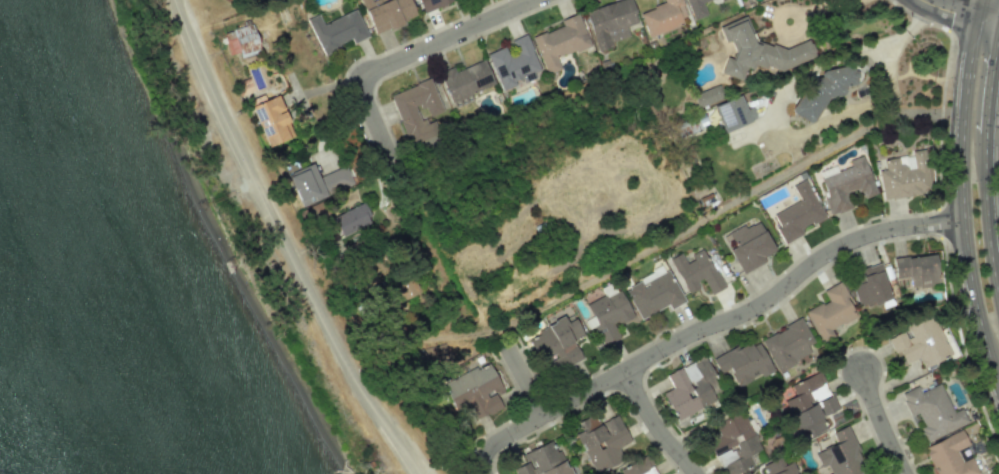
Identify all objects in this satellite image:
building: (721, 0)
building: (431, 4)
road: (812, 5)
building: (696, 8)
road: (976, 11)
building: (387, 13)
road: (959, 15)
building: (663, 16)
building: (610, 22)
road: (996, 24)
building: (337, 29)
building: (241, 41)
building: (560, 42)
building: (758, 51)
road: (402, 59)
building: (514, 63)
building: (466, 81)
road: (988, 81)
building: (822, 92)
building: (706, 96)
building: (416, 111)
building: (734, 113)
building: (271, 120)
building: (905, 176)
building: (318, 183)
building: (846, 185)
road: (964, 196)
road: (986, 212)
building: (797, 213)
building: (352, 218)
road: (282, 241)
building: (749, 246)
road: (656, 247)
building: (916, 269)
building: (696, 271)
road: (998, 285)
building: (869, 286)
building: (654, 293)
building: (830, 312)
building: (607, 315)
road: (714, 326)
building: (919, 341)
building: (557, 343)
building: (787, 344)
river: (71, 349)
building: (743, 363)
road: (996, 378)
road: (530, 383)
building: (690, 388)
building: (475, 392)
building: (807, 405)
building: (932, 410)
road: (886, 422)
road: (657, 426)
building: (602, 440)
building: (733, 444)
building: (841, 455)
building: (949, 455)
building: (543, 460)
building: (639, 467)
building: (777, 467)

